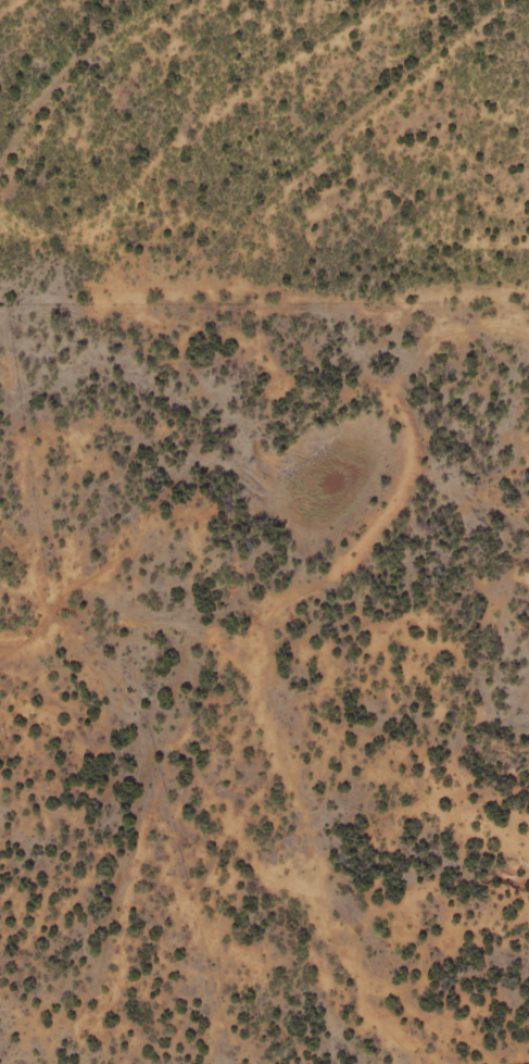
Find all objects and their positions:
road: (32, 639)

